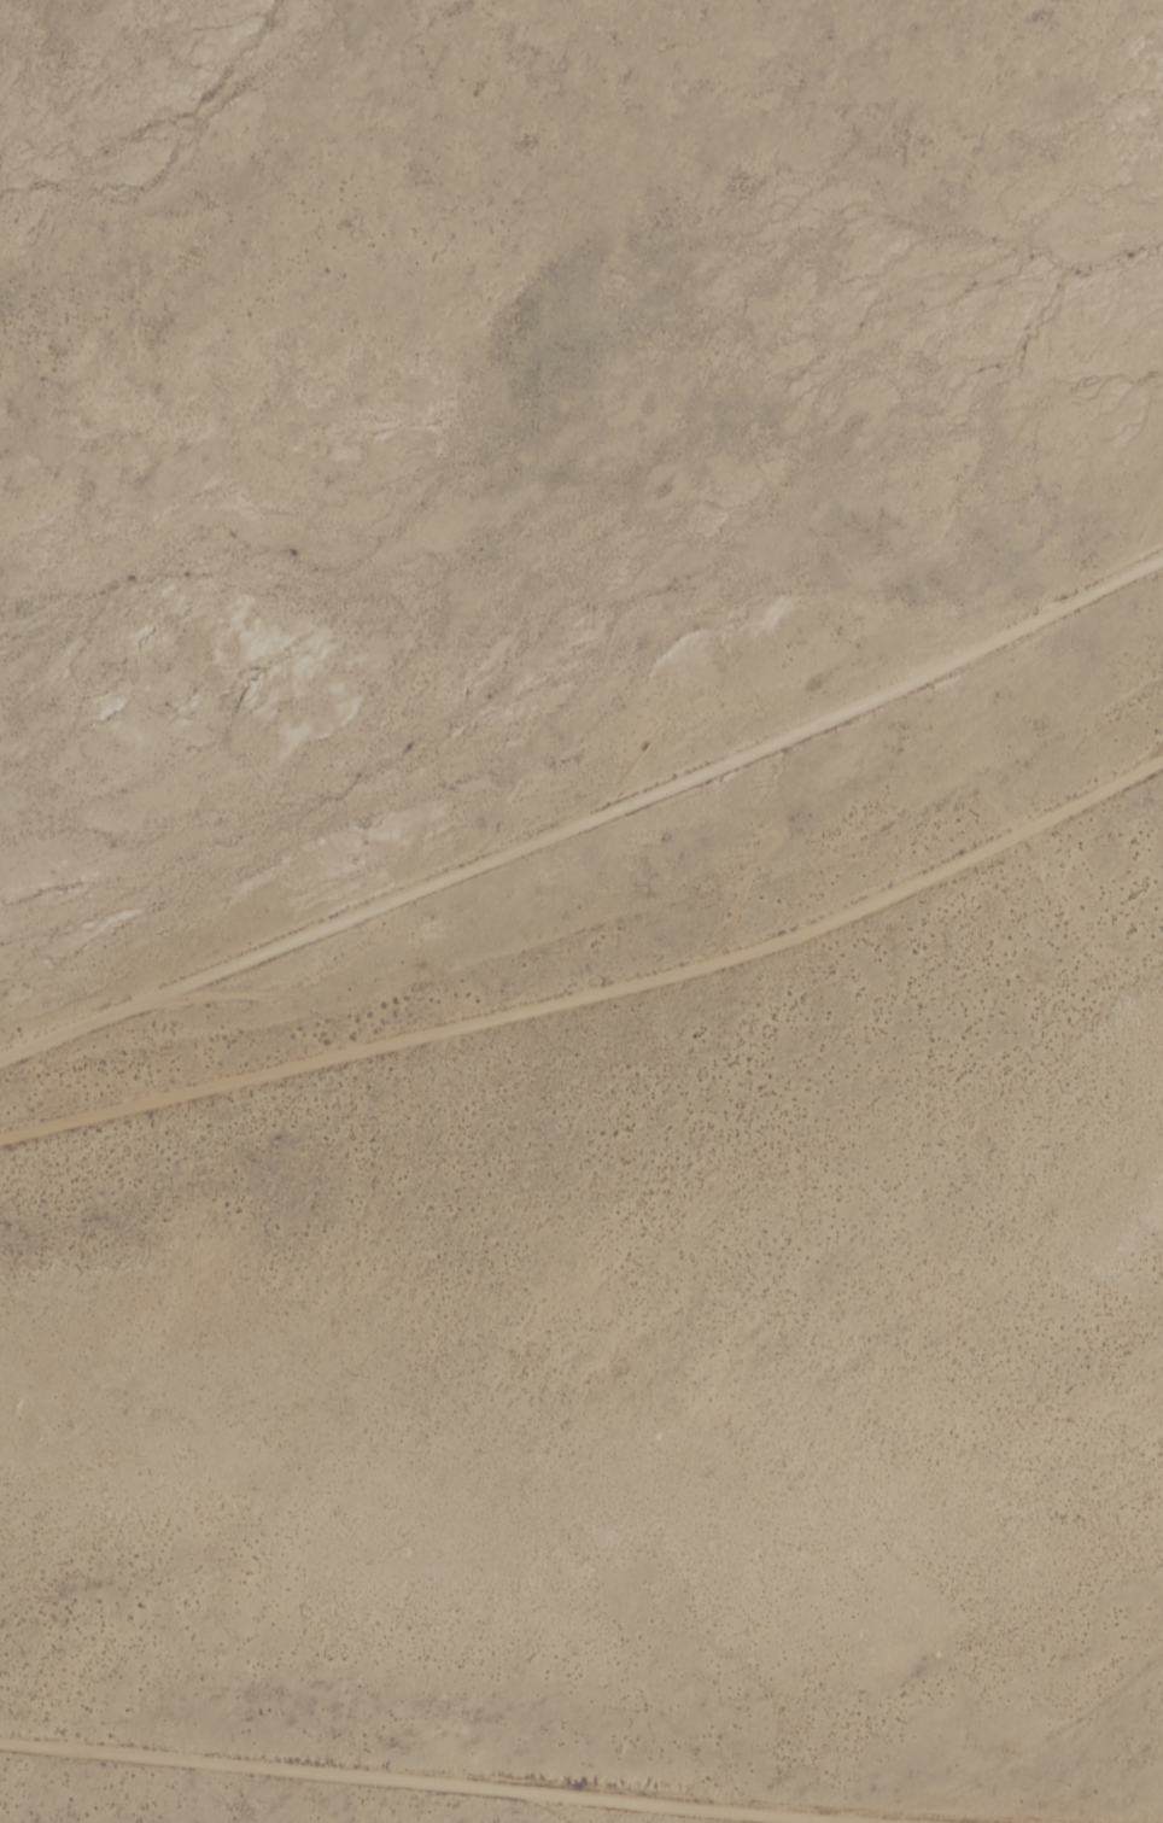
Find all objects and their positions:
road: (577, 801)

